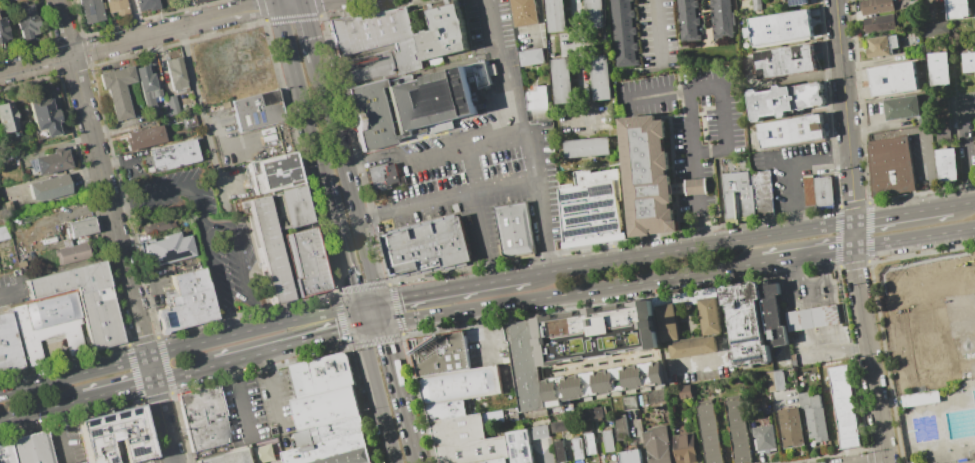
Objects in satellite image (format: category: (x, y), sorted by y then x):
road: (311, 0)
building: (193, 1)
road: (301, 1)
rooftop solar panel: (799, 1)
road: (279, 2)
building: (796, 2)
road: (291, 3)
building: (145, 4)
building: (974, 4)
building: (755, 5)
building: (876, 6)
building: (115, 7)
building: (957, 9)
rooftop solar panel: (86, 10)
building: (90, 10)
building: (523, 12)
building: (594, 14)
road: (230, 15)
building: (556, 15)
building: (721, 18)
building: (25, 20)
building: (687, 20)
road: (540, 21)
building: (879, 23)
building: (779, 27)
building: (934, 28)
building: (368, 29)
building: (2, 30)
road: (309, 31)
building: (442, 31)
road: (658, 31)
building: (622, 33)
parking lot: (657, 35)
building: (892, 42)
building: (878, 46)
road: (90, 49)
building: (532, 57)
building: (785, 61)
building: (968, 62)
building: (379, 63)
road: (579, 63)
road: (506, 66)
building: (939, 69)
building: (175, 73)
building: (600, 77)
building: (893, 78)
building: (562, 81)
building: (146, 85)
building: (117, 90)
road: (678, 91)
road: (302, 93)
building: (538, 98)
building: (785, 100)
building: (172, 104)
building: (415, 104)
building: (902, 108)
building: (258, 110)
building: (43, 114)
parking lot: (692, 114)
building: (974, 117)
building: (8, 118)
road: (205, 119)
building: (188, 120)
building: (924, 121)
road: (846, 123)
building: (790, 130)
parking lot: (964, 130)
road: (725, 133)
building: (942, 133)
road: (886, 134)
building: (144, 137)
road: (484, 143)
building: (587, 147)
road: (964, 148)
building: (173, 155)
parking lot: (481, 156)
building: (52, 161)
building: (890, 164)
building: (946, 164)
road: (788, 166)
road: (694, 168)
road: (929, 168)
building: (279, 173)
building: (390, 173)
parking lot: (791, 173)
road: (104, 177)
building: (645, 178)
road: (349, 180)
building: (696, 187)
building: (49, 188)
rooftop solar panel: (602, 188)
building: (822, 190)
road: (171, 191)
building: (762, 193)
rooftop solar panel: (574, 194)
building: (738, 195)
road: (440, 201)
road: (963, 203)
rooftop solar panel: (587, 205)
building: (297, 208)
building: (592, 209)
road: (903, 213)
rooftop solar panel: (590, 217)
building: (156, 226)
road: (210, 226)
road: (542, 226)
building: (79, 227)
rooftop solar panel: (594, 229)
building: (517, 230)
building: (3, 232)
parking lot: (207, 235)
road: (915, 237)
road: (480, 238)
road: (340, 244)
building: (168, 248)
building: (430, 248)
road: (691, 248)
building: (71, 252)
building: (269, 252)
road: (808, 254)
building: (309, 263)
road: (453, 288)
road: (11, 291)
road: (573, 292)
building: (683, 297)
building: (88, 301)
building: (187, 301)
traffic signals: (380, 301)
road: (367, 303)
traffic signals: (355, 306)
road: (382, 311)
building: (771, 314)
building: (708, 315)
road: (357, 316)
building: (811, 317)
traffic signals: (385, 322)
building: (665, 322)
road: (372, 324)
building: (744, 325)
traffic signals: (360, 327)
building: (50, 329)
building: (594, 332)
road: (485, 333)
road: (888, 335)
road: (723, 339)
road: (288, 345)
building: (9, 346)
parking lot: (486, 346)
building: (691, 346)
road: (177, 348)
building: (438, 353)
road: (869, 355)
building: (524, 364)
road: (898, 364)
road: (185, 373)
building: (322, 376)
road: (902, 379)
building: (774, 380)
road: (399, 382)
building: (600, 382)
building: (459, 384)
road: (269, 386)
road: (119, 390)
building: (683, 391)
road: (377, 395)
building: (655, 396)
road: (240, 398)
building: (919, 398)
parking lot: (278, 401)
building: (628, 402)
building: (843, 406)
building: (326, 408)
road: (42, 409)
road: (161, 409)
building: (444, 409)
rooftop solar panel: (131, 411)
parking lot: (243, 412)
rooftop solar panel: (118, 414)
building: (591, 414)
building: (812, 415)
building: (492, 417)
rooftop solar panel: (103, 418)
building: (205, 418)
rooftop solar panel: (87, 421)
building: (561, 425)
building: (790, 427)
rooftop solar panel: (102, 428)
building: (619, 428)
building: (341, 429)
rooftop solar panel: (89, 430)
building: (539, 431)
building: (736, 431)
building: (708, 433)
road: (60, 435)
rooftop solar panel: (525, 435)
building: (763, 437)
building: (117, 438)
rooftop solar panel: (130, 438)
rooftop solar panel: (145, 438)
rooftop solar panel: (512, 438)
building: (465, 440)
building: (607, 440)
building: (589, 444)
building: (656, 445)
building: (518, 446)
building: (577, 448)
building: (684, 448)
building: (35, 450)
rooftop solar panel: (133, 450)
building: (335, 451)
rooftop solar panel: (525, 451)
building: (559, 451)
road: (417, 452)
building: (8, 453)
building: (262, 453)
rooftop solar panel: (514, 453)
building: (629, 456)
building: (232, 457)
rooftop solar panel: (108, 460)
building: (482, 462)
building: (613, 462)
road: (881, 462)

